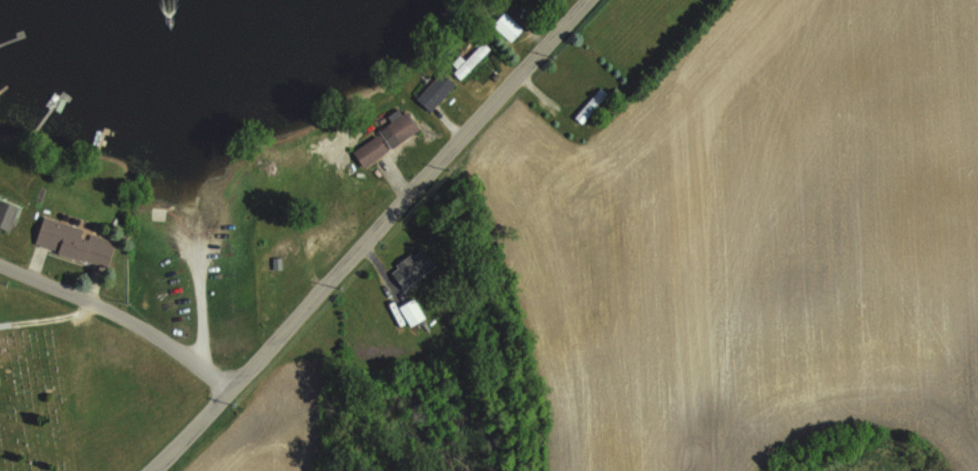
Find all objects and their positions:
building: (507, 27)
building: (469, 59)
building: (434, 92)
building: (401, 127)
building: (370, 151)
building: (328, 156)
building: (8, 214)
road: (368, 235)
building: (75, 242)
building: (294, 251)
building: (413, 269)
building: (413, 312)
road: (121, 315)
park: (31, 396)

